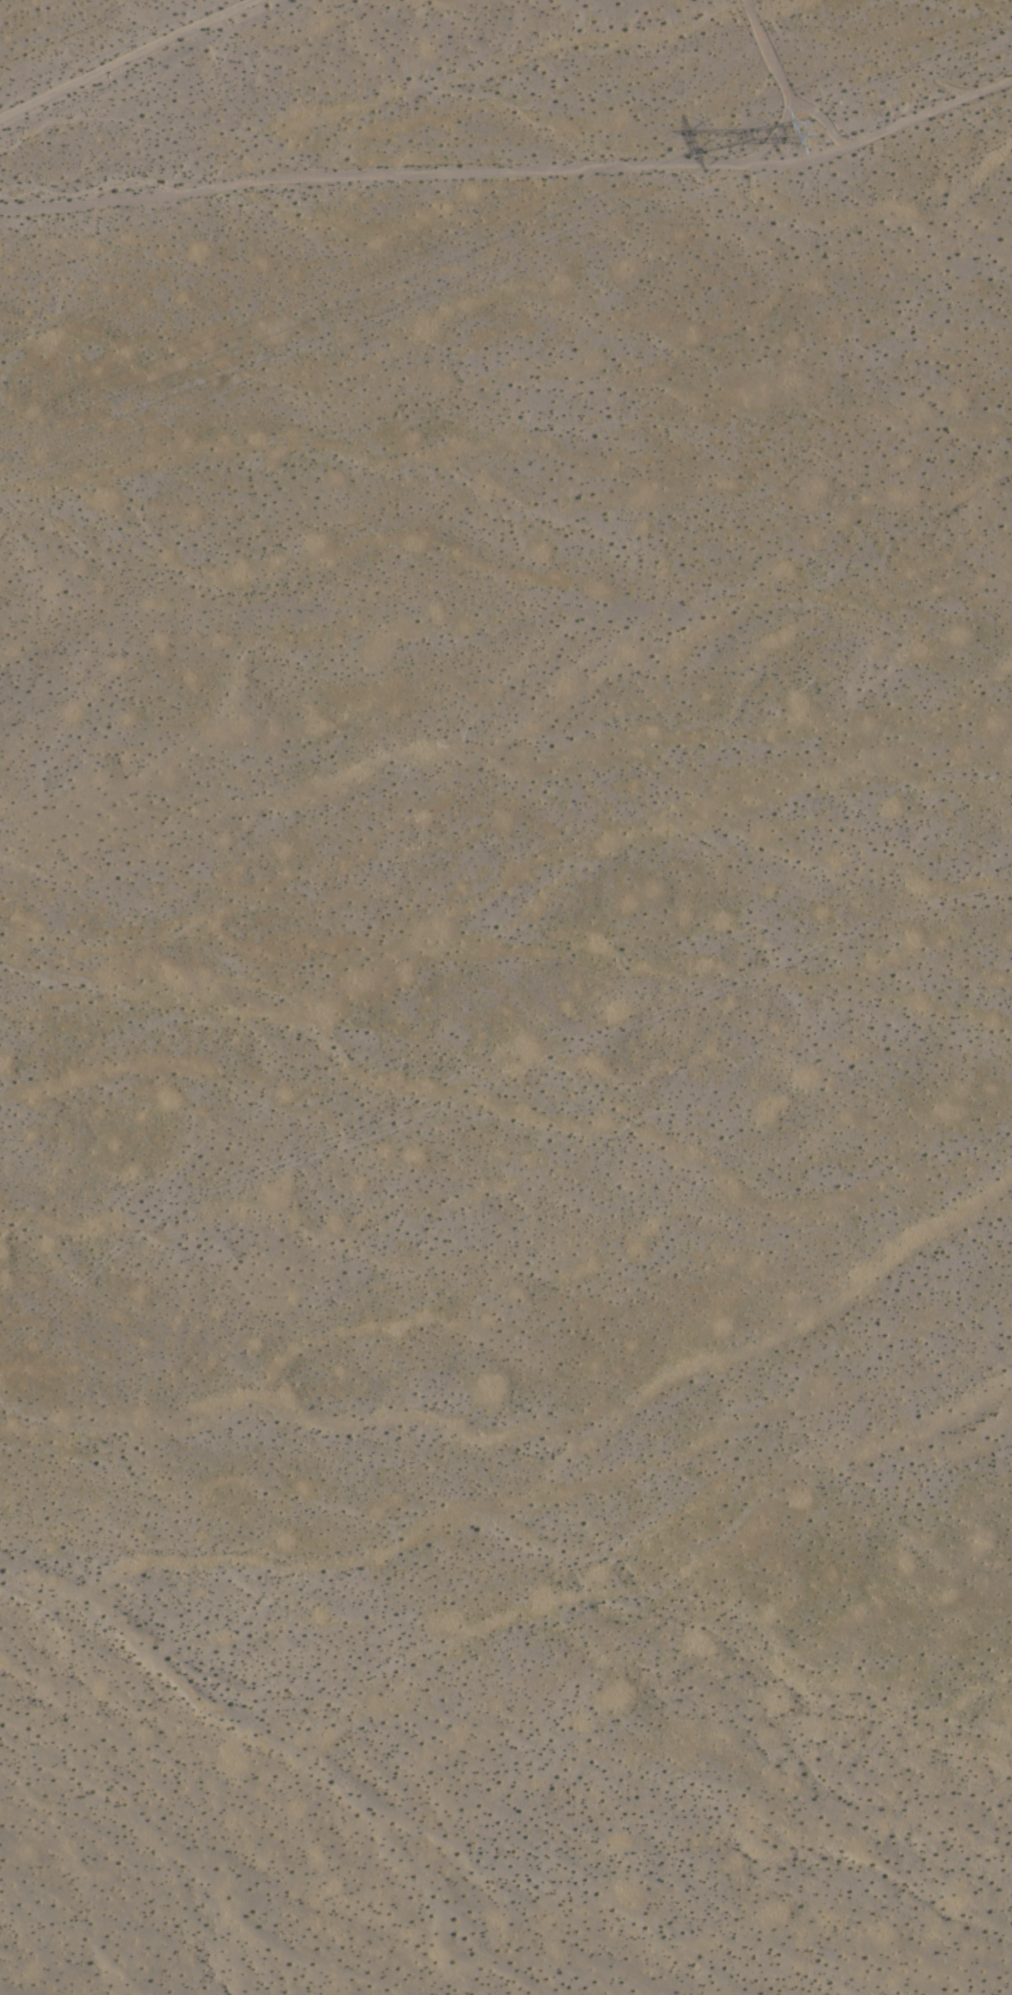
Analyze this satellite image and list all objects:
road: (161, 72)
power tower: (815, 135)
road: (513, 182)

